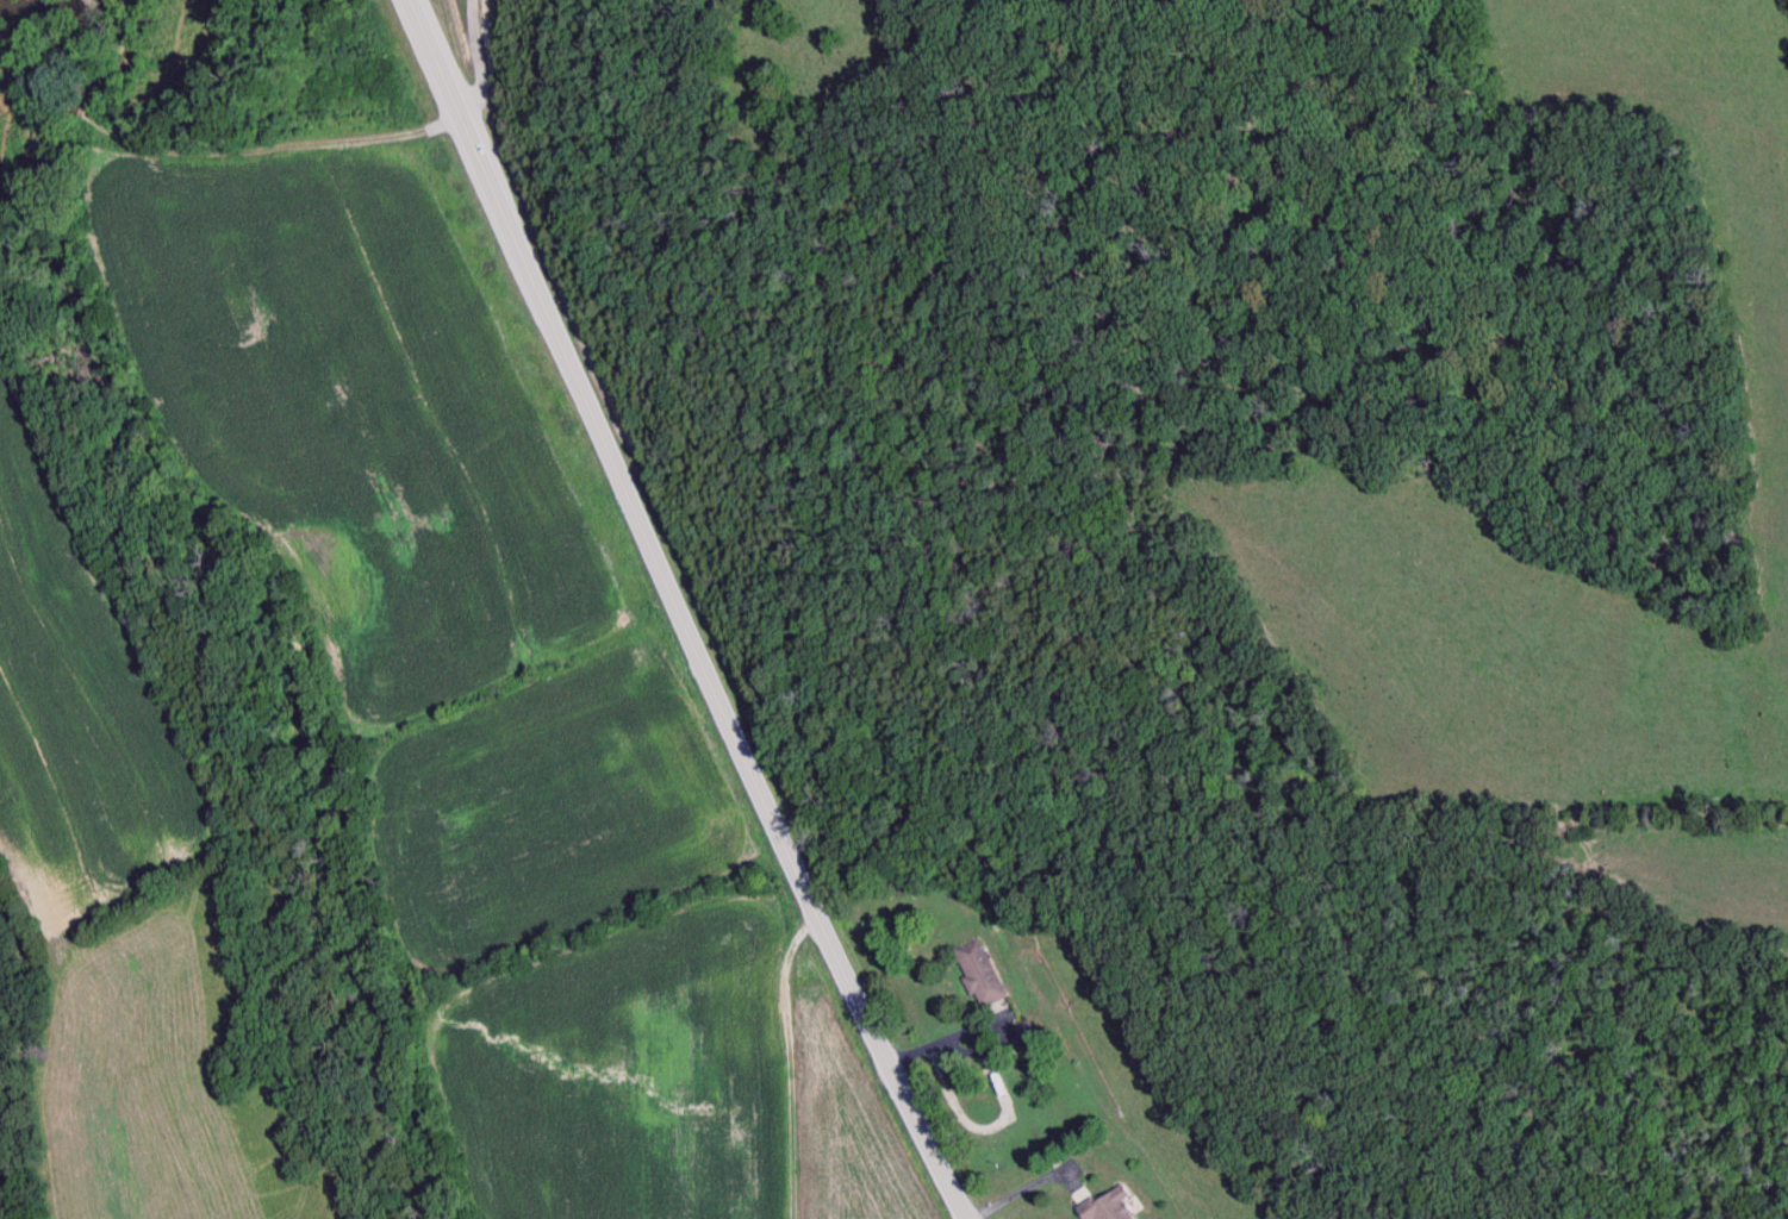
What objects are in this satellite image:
river: (68, 18)
road: (686, 606)
building: (978, 975)
road: (980, 1029)
road: (1023, 1194)
building: (1109, 1207)

